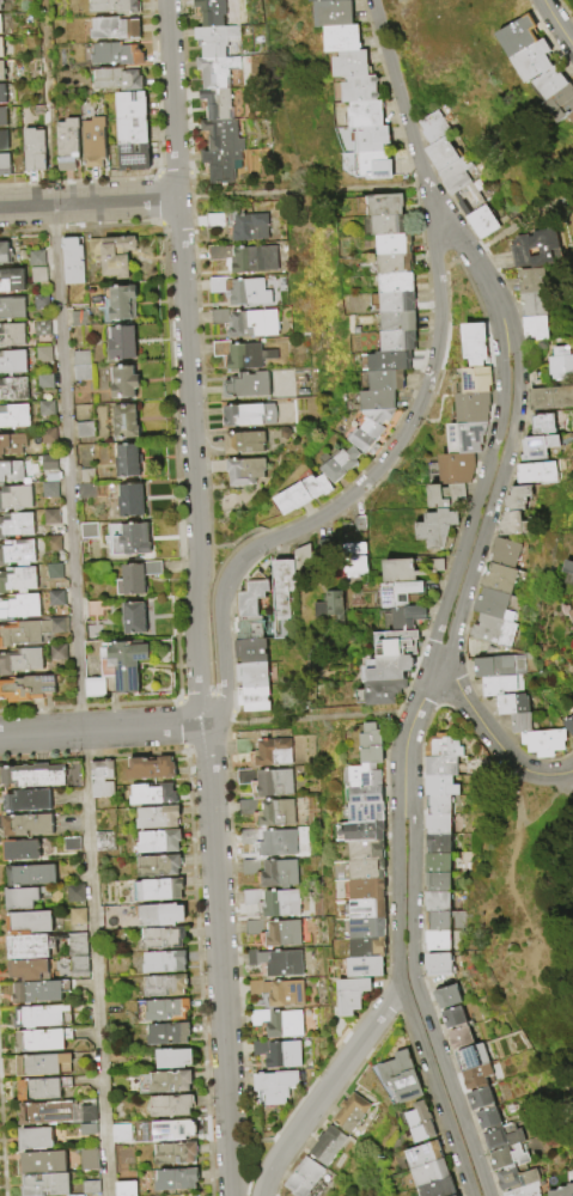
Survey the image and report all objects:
building: (323, 0)
building: (109, 7)
building: (211, 13)
building: (333, 13)
road: (557, 24)
building: (0, 29)
building: (109, 29)
building: (518, 36)
building: (342, 38)
building: (215, 41)
park: (431, 50)
building: (0, 51)
building: (111, 55)
building: (532, 61)
road: (390, 62)
building: (350, 63)
building: (1, 72)
building: (215, 72)
building: (112, 80)
building: (550, 83)
building: (358, 89)
building: (1, 94)
building: (561, 102)
building: (215, 105)
building: (126, 106)
building: (364, 115)
building: (571, 116)
building: (2, 118)
building: (433, 127)
building: (127, 132)
building: (217, 135)
building: (370, 139)
building: (2, 141)
building: (90, 144)
building: (63, 145)
building: (30, 151)
building: (440, 153)
building: (128, 158)
building: (4, 165)
building: (219, 166)
building: (372, 166)
road: (421, 171)
building: (453, 176)
building: (469, 199)
road: (89, 203)
building: (380, 206)
building: (262, 209)
building: (281, 213)
building: (215, 221)
building: (481, 221)
building: (382, 226)
building: (250, 228)
park: (501, 228)
road: (453, 234)
road: (437, 243)
building: (389, 245)
building: (541, 246)
building: (218, 254)
building: (519, 254)
building: (4, 255)
building: (109, 256)
building: (36, 260)
building: (74, 260)
building: (255, 261)
building: (390, 264)
road: (182, 273)
building: (38, 275)
building: (530, 281)
building: (11, 282)
building: (392, 283)
building: (219, 285)
road: (488, 291)
building: (250, 293)
park: (459, 293)
building: (41, 301)
building: (118, 303)
building: (389, 303)
building: (531, 305)
building: (11, 309)
building: (220, 318)
building: (78, 319)
building: (394, 322)
building: (254, 324)
building: (535, 328)
building: (42, 329)
building: (12, 336)
building: (394, 342)
building: (474, 342)
building: (118, 343)
building: (44, 355)
building: (244, 355)
building: (389, 361)
building: (12, 362)
building: (559, 364)
building: (81, 366)
building: (476, 378)
building: (382, 380)
building: (45, 382)
building: (120, 383)
building: (248, 386)
building: (13, 390)
building: (550, 397)
building: (373, 401)
building: (471, 405)
building: (47, 409)
building: (14, 416)
building: (250, 416)
building: (122, 422)
building: (371, 423)
building: (538, 425)
building: (85, 433)
building: (465, 435)
building: (49, 437)
building: (358, 443)
building: (245, 444)
building: (12, 445)
building: (532, 447)
building: (124, 460)
building: (49, 463)
building: (336, 464)
building: (456, 466)
building: (11, 472)
building: (245, 472)
building: (532, 472)
building: (86, 477)
building: (313, 487)
building: (50, 490)
building: (85, 492)
building: (445, 493)
building: (294, 495)
building: (14, 498)
building: (512, 498)
building: (127, 501)
road: (475, 502)
building: (280, 504)
road: (492, 505)
road: (329, 511)
building: (51, 518)
building: (507, 524)
building: (358, 525)
building: (16, 526)
building: (435, 526)
building: (87, 531)
building: (129, 541)
building: (53, 544)
building: (324, 549)
building: (499, 553)
building: (16, 554)
building: (303, 559)
building: (355, 560)
building: (567, 567)
building: (407, 569)
building: (54, 572)
building: (133, 578)
building: (493, 579)
building: (572, 579)
building: (18, 580)
building: (284, 587)
building: (398, 593)
road: (74, 597)
building: (252, 597)
building: (56, 599)
building: (486, 604)
building: (19, 608)
building: (329, 608)
building: (95, 610)
building: (571, 615)
building: (403, 617)
building: (129, 618)
building: (249, 628)
building: (30, 631)
building: (488, 631)
building: (386, 643)
building: (250, 652)
building: (59, 653)
building: (20, 661)
building: (121, 664)
building: (499, 666)
building: (386, 667)
building: (252, 677)
building: (502, 685)
building: (93, 688)
building: (26, 689)
building: (380, 691)
building: (254, 701)
building: (512, 704)
building: (520, 724)
building: (568, 726)
road: (409, 727)
road: (103, 728)
road: (484, 728)
building: (544, 743)
building: (371, 744)
building: (440, 746)
building: (267, 751)
building: (435, 767)
building: (154, 769)
road: (560, 773)
building: (71, 774)
building: (36, 776)
building: (245, 776)
building: (103, 780)
building: (274, 782)
building: (361, 783)
building: (437, 787)
building: (156, 795)
road: (518, 797)
building: (30, 801)
building: (435, 804)
road: (548, 804)
building: (248, 806)
building: (365, 811)
building: (276, 813)
building: (160, 818)
building: (435, 823)
building: (31, 825)
road: (212, 826)
building: (360, 831)
building: (249, 836)
building: (160, 842)
building: (105, 843)
building: (279, 843)
building: (435, 843)
building: (72, 844)
building: (24, 850)
building: (358, 850)
building: (435, 864)
building: (161, 866)
building: (251, 867)
building: (358, 869)
building: (279, 873)
building: (35, 875)
road: (513, 877)
building: (435, 881)
building: (165, 890)
building: (358, 890)
building: (75, 895)
building: (28, 897)
building: (252, 897)
building: (435, 901)
building: (281, 903)
park: (530, 904)
building: (365, 909)
building: (164, 916)
building: (78, 917)
building: (437, 920)
building: (32, 923)
building: (255, 927)
building: (366, 928)
building: (284, 934)
building: (166, 939)
building: (435, 939)
building: (45, 946)
building: (366, 947)
building: (278, 962)
building: (167, 963)
building: (79, 965)
building: (437, 965)
building: (364, 966)
building: (31, 970)
building: (169, 987)
building: (280, 991)
building: (42, 993)
building: (352, 994)
road: (402, 995)
road: (419, 995)
building: (445, 996)
building: (166, 1011)
building: (45, 1017)
building: (280, 1023)
building: (456, 1026)
building: (171, 1035)
building: (44, 1041)
building: (279, 1052)
building: (116, 1056)
building: (471, 1057)
building: (176, 1058)
building: (47, 1066)
building: (401, 1076)
building: (476, 1076)
building: (170, 1082)
building: (275, 1085)
road: (325, 1088)
building: (44, 1090)
building: (480, 1098)
building: (175, 1106)
building: (59, 1113)
building: (349, 1113)
building: (488, 1118)
building: (420, 1122)
building: (89, 1129)
building: (175, 1131)
building: (122, 1134)
building: (501, 1137)
building: (38, 1139)
building: (325, 1146)
road: (230, 1151)
building: (178, 1154)
building: (422, 1154)
building: (508, 1155)
building: (90, 1160)
building: (47, 1164)
building: (429, 1172)
building: (303, 1178)
building: (516, 1178)
building: (179, 1180)
building: (49, 1185)
building: (91, 1188)
building: (438, 1188)
building: (129, 1189)
building: (524, 1190)
building: (562, 1190)
building: (455, 1195)

